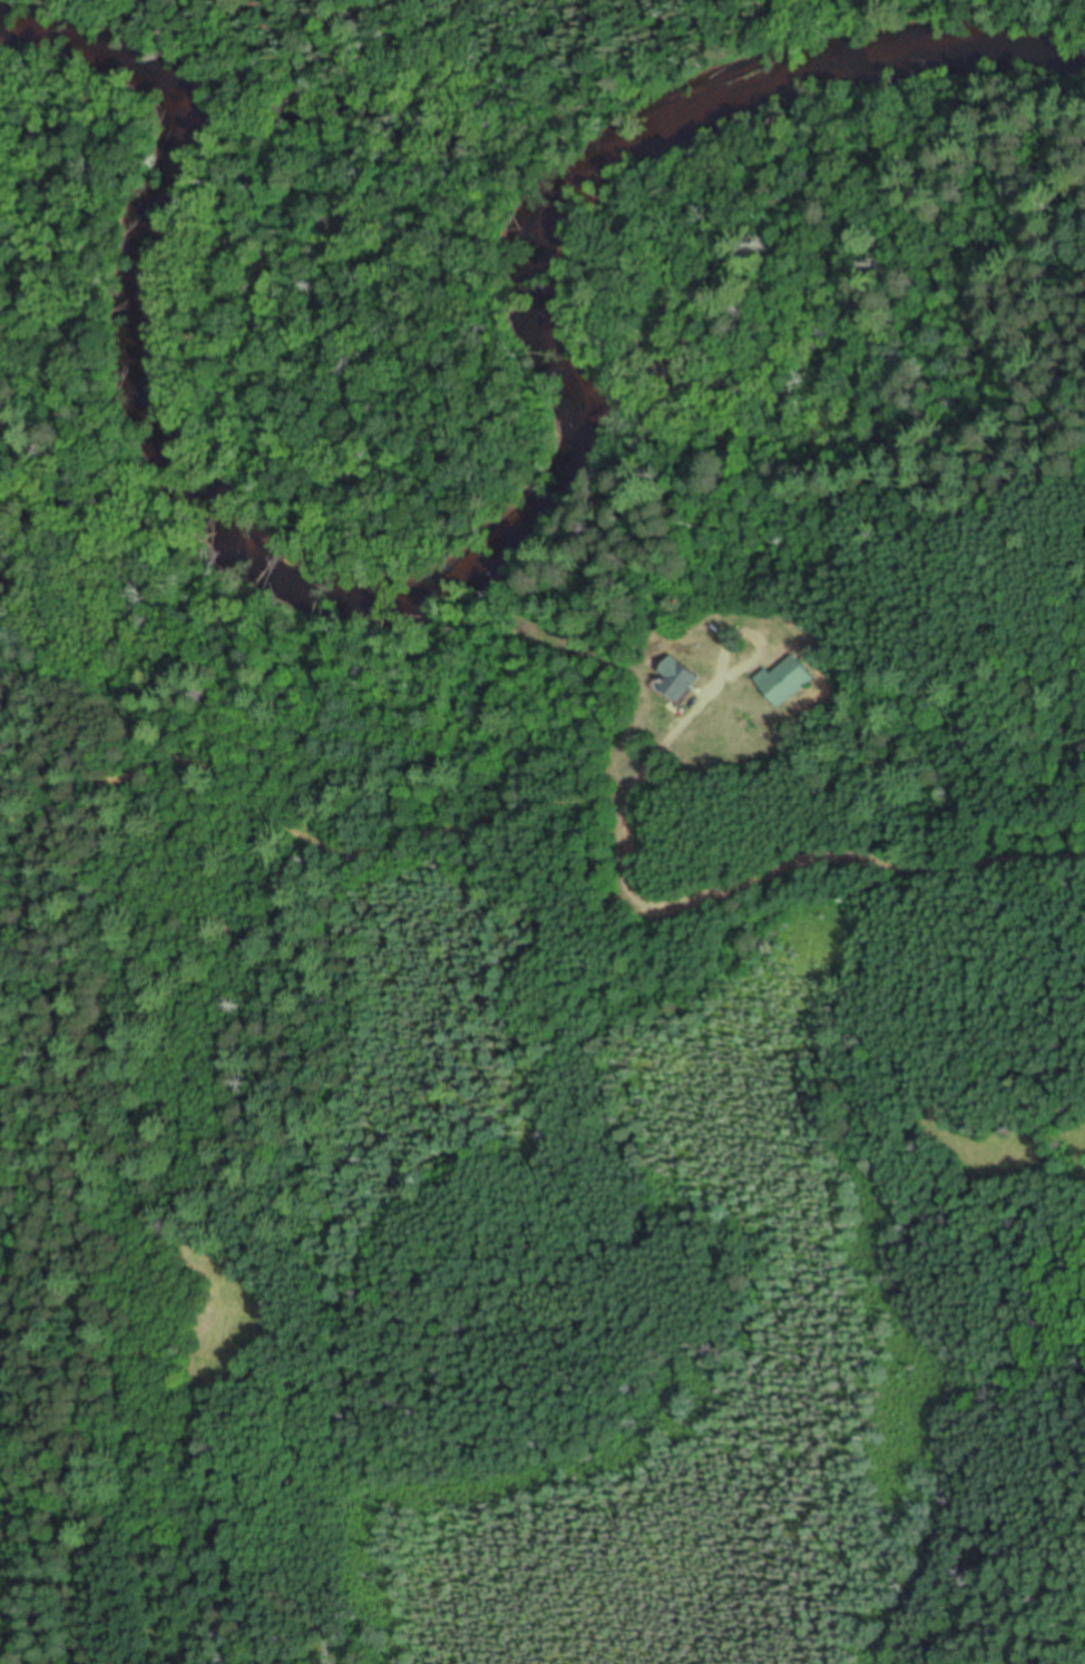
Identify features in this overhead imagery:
river: (500, 547)
building: (676, 683)
building: (782, 685)

